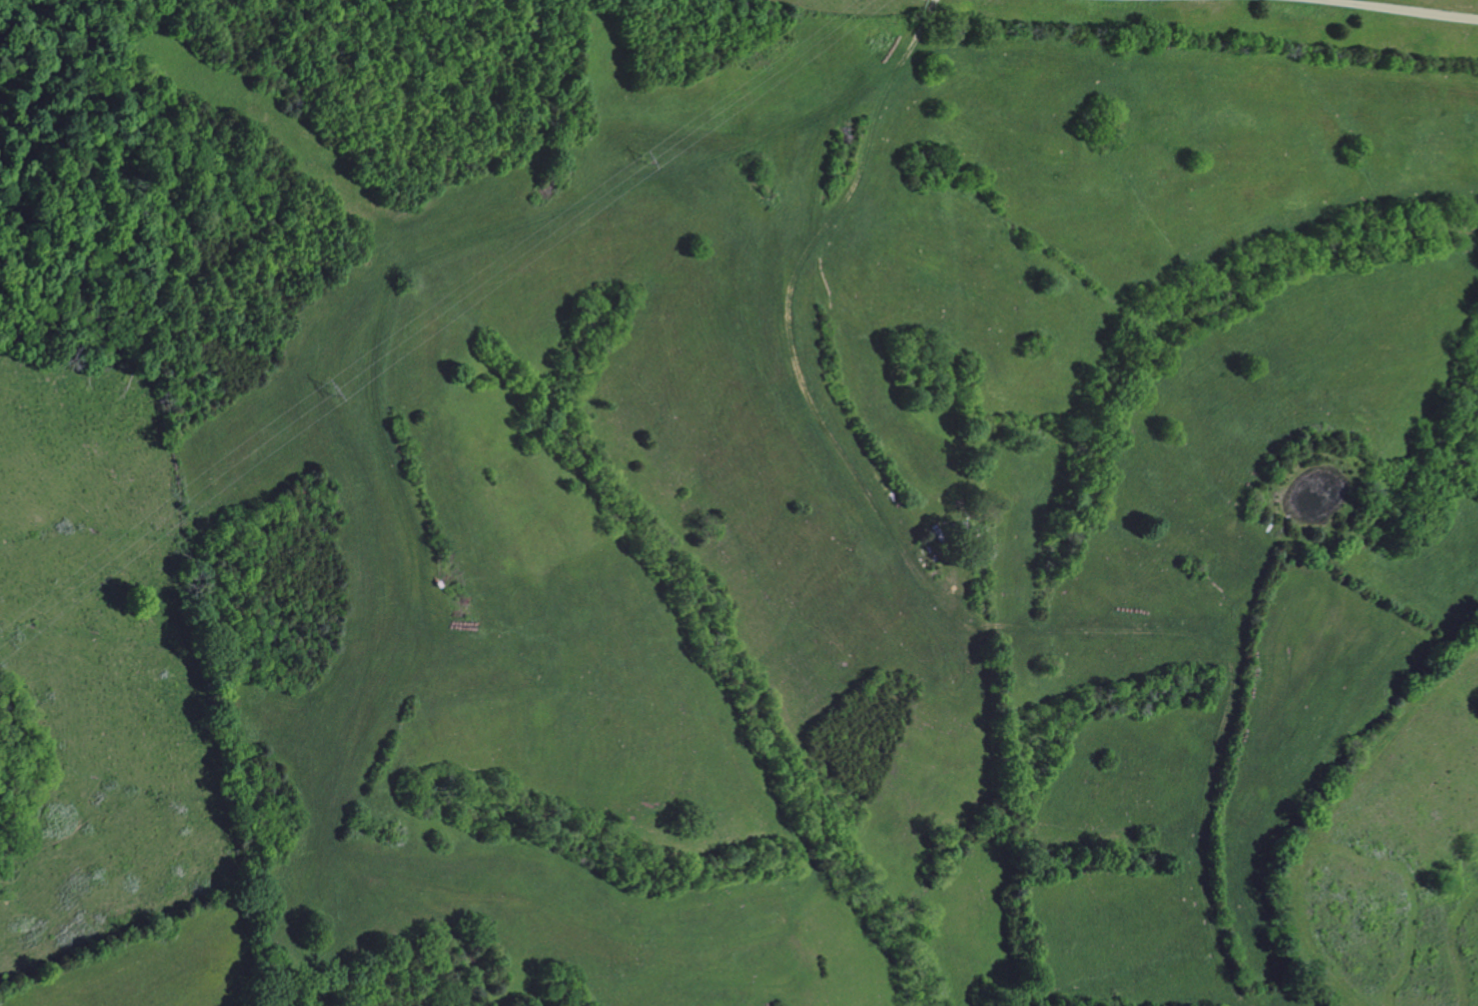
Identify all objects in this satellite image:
road: (1408, 8)

